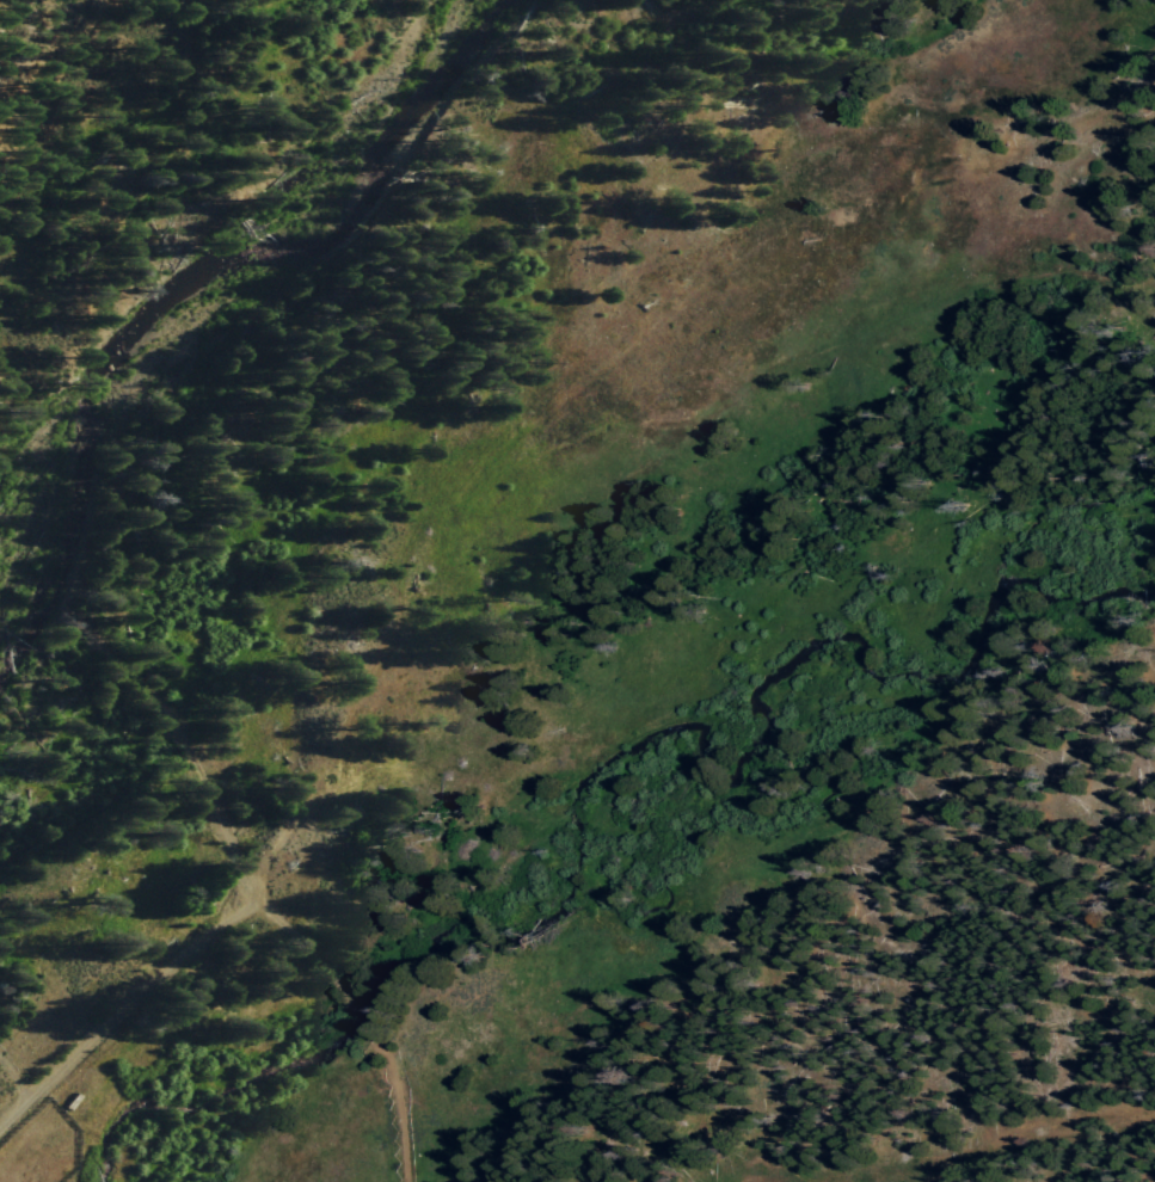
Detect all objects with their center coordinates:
road: (55, 86)
river: (202, 278)
road: (153, 697)
road: (231, 844)
road: (299, 942)
road: (135, 997)
road: (12, 1082)
road: (398, 1112)
road: (11, 1113)

